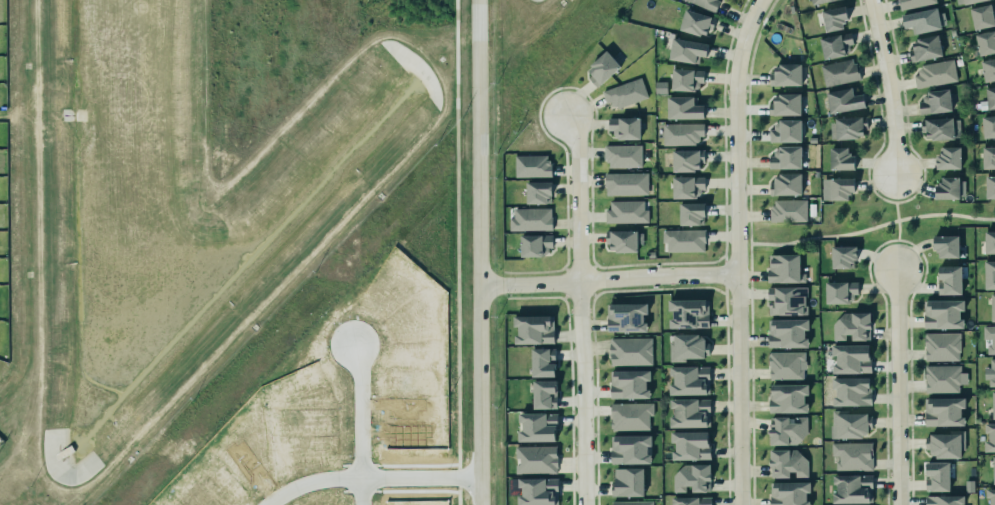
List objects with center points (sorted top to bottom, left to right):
building: (966, 1)
building: (821, 2)
building: (706, 3)
building: (916, 3)
building: (983, 16)
building: (834, 18)
building: (921, 21)
building: (697, 23)
building: (986, 42)
building: (834, 45)
building: (924, 49)
building: (686, 51)
building: (603, 68)
building: (988, 69)
building: (840, 72)
building: (934, 73)
building: (786, 75)
building: (684, 79)
road: (888, 86)
building: (661, 87)
building: (626, 93)
building: (989, 98)
building: (842, 101)
building: (934, 102)
building: (786, 104)
building: (682, 109)
building: (988, 126)
building: (625, 127)
building: (848, 128)
building: (939, 128)
building: (784, 131)
building: (681, 134)
building: (622, 156)
building: (786, 157)
building: (987, 158)
building: (841, 159)
building: (948, 159)
building: (688, 160)
building: (531, 166)
road: (884, 181)
building: (624, 183)
building: (785, 185)
building: (687, 186)
building: (990, 187)
building: (837, 188)
building: (946, 189)
building: (537, 193)
road: (882, 198)
road: (908, 200)
building: (787, 210)
building: (627, 212)
road: (897, 212)
building: (692, 214)
building: (530, 217)
park: (867, 224)
road: (873, 228)
road: (899, 230)
road: (750, 232)
building: (684, 237)
building: (988, 239)
building: (621, 241)
road: (906, 242)
road: (884, 243)
building: (944, 243)
building: (535, 245)
road: (736, 250)
road: (456, 252)
road: (479, 252)
building: (842, 254)
road: (751, 258)
road: (885, 261)
building: (785, 268)
building: (988, 272)
building: (948, 277)
road: (608, 279)
building: (838, 290)
building: (786, 299)
building: (992, 305)
road: (579, 309)
building: (687, 311)
building: (940, 312)
building: (624, 315)
building: (851, 324)
building: (534, 329)
building: (786, 330)
building: (988, 337)
building: (940, 345)
building: (689, 346)
building: (631, 351)
building: (850, 356)
building: (540, 360)
building: (785, 363)
building: (992, 372)
park: (7, 373)
building: (942, 376)
building: (690, 380)
building: (627, 382)
road: (897, 387)
building: (850, 389)
building: (545, 394)
building: (786, 396)
building: (992, 402)
building: (942, 408)
building: (687, 410)
road: (360, 412)
building: (628, 415)
building: (848, 422)
building: (538, 427)
building: (786, 428)
building: (990, 431)
building: (689, 443)
building: (945, 445)
building: (628, 447)
building: (853, 455)
building: (534, 458)
building: (785, 461)
building: (993, 468)
building: (935, 474)
building: (693, 478)
road: (421, 479)
building: (628, 482)
road: (316, 484)
building: (851, 486)
building: (536, 489)
road: (361, 492)
building: (788, 492)
building: (990, 494)
building: (942, 499)
building: (689, 500)
building: (639, 504)

